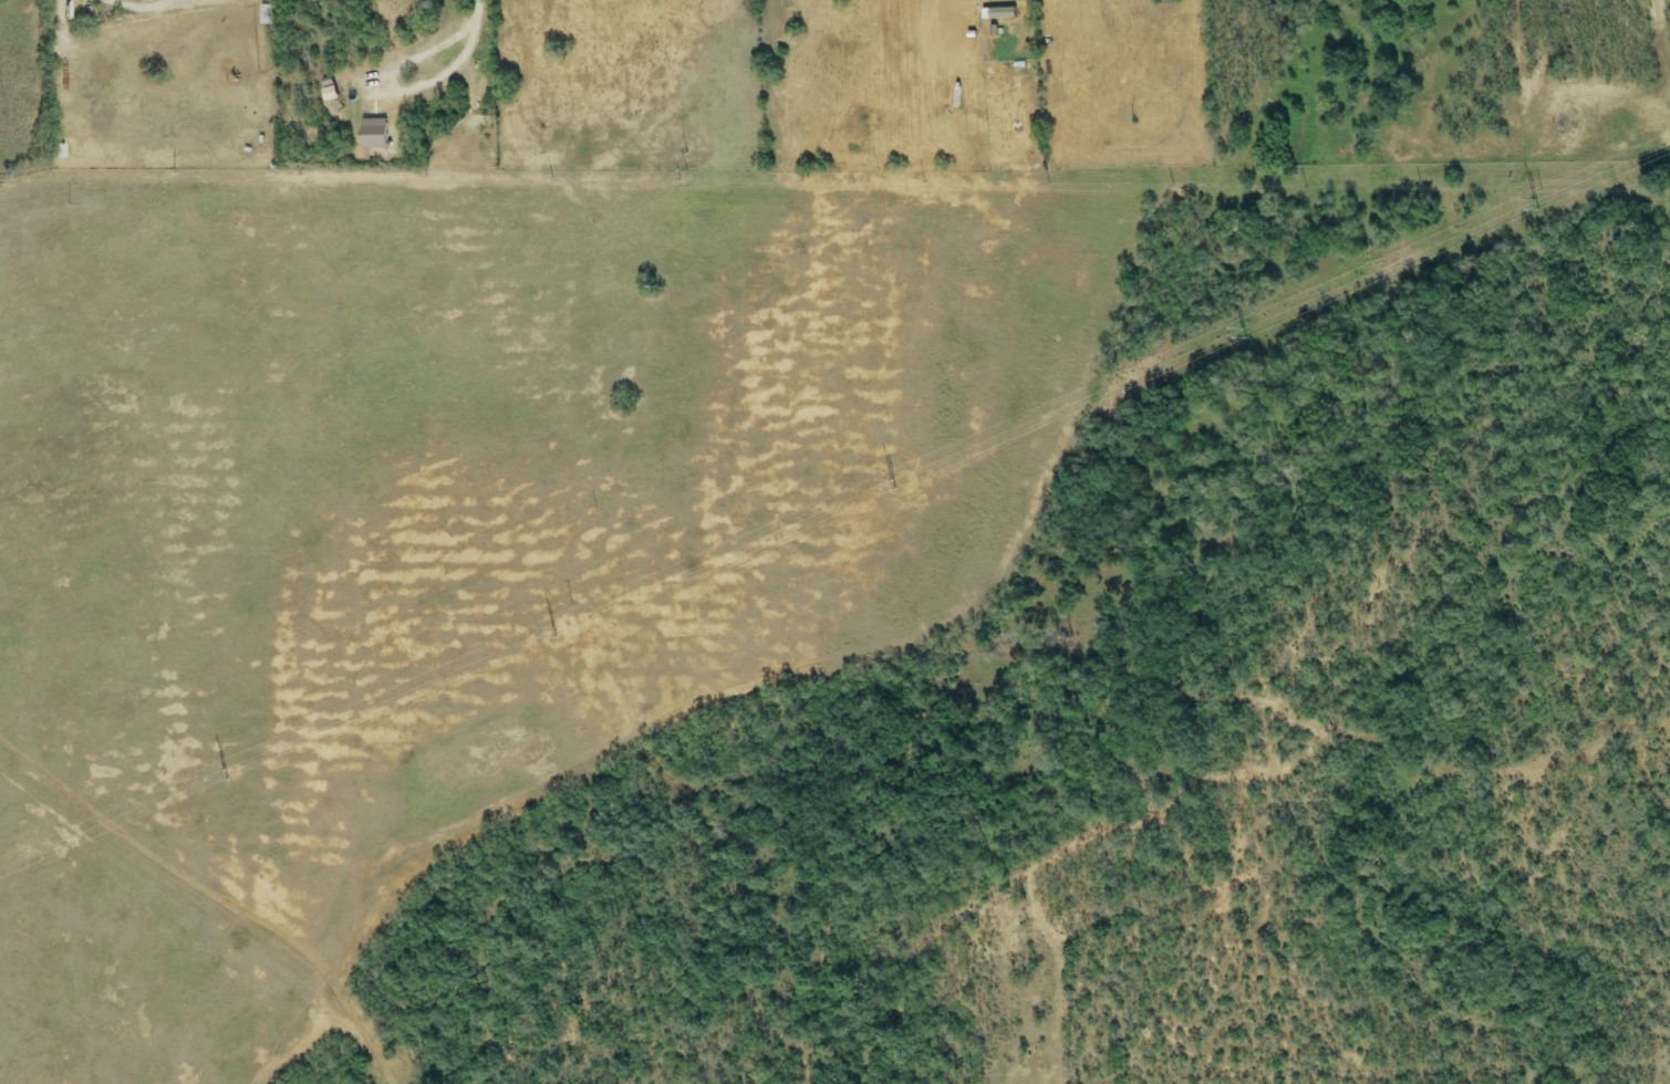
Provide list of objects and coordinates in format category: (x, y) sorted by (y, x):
road: (141, 12)
road: (457, 62)
power tower: (305, 90)
power tower: (1545, 202)
power tower: (1236, 336)
power tower: (901, 481)
power tower: (567, 628)
power tower: (234, 773)

